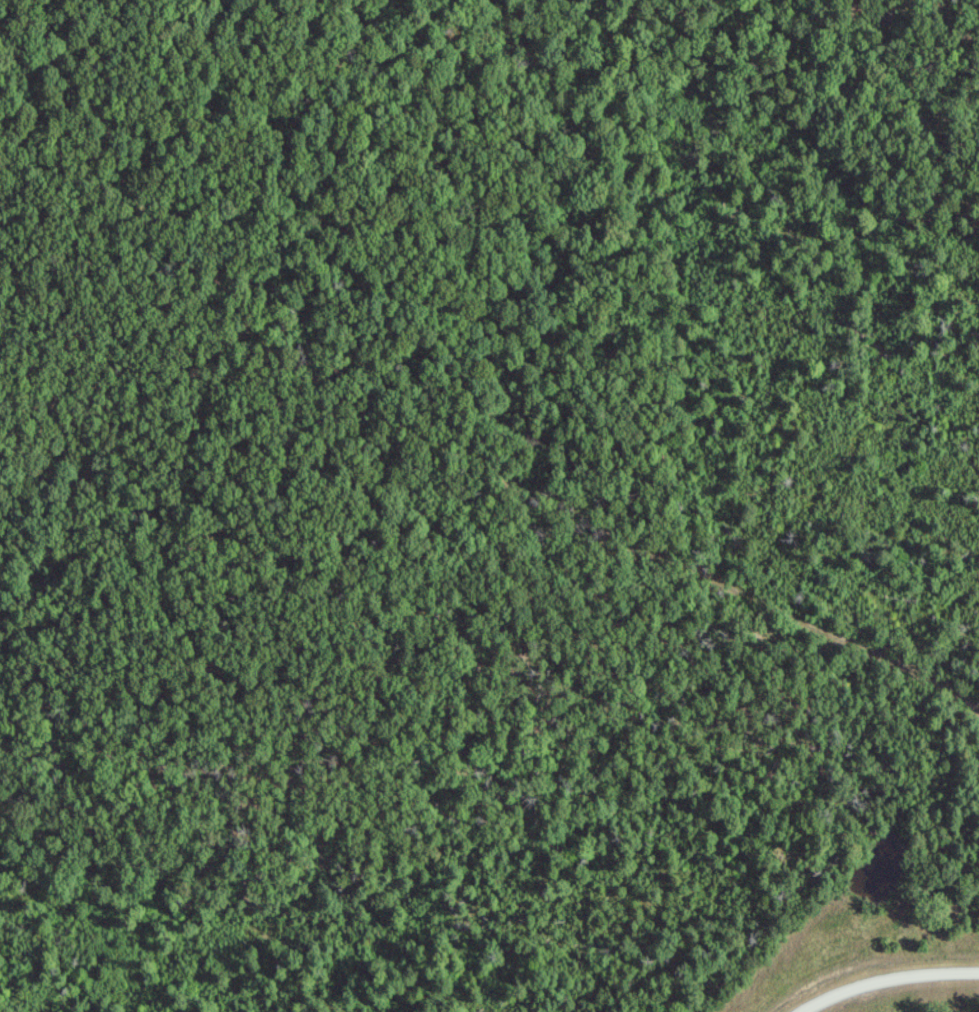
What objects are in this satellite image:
road: (891, 979)

